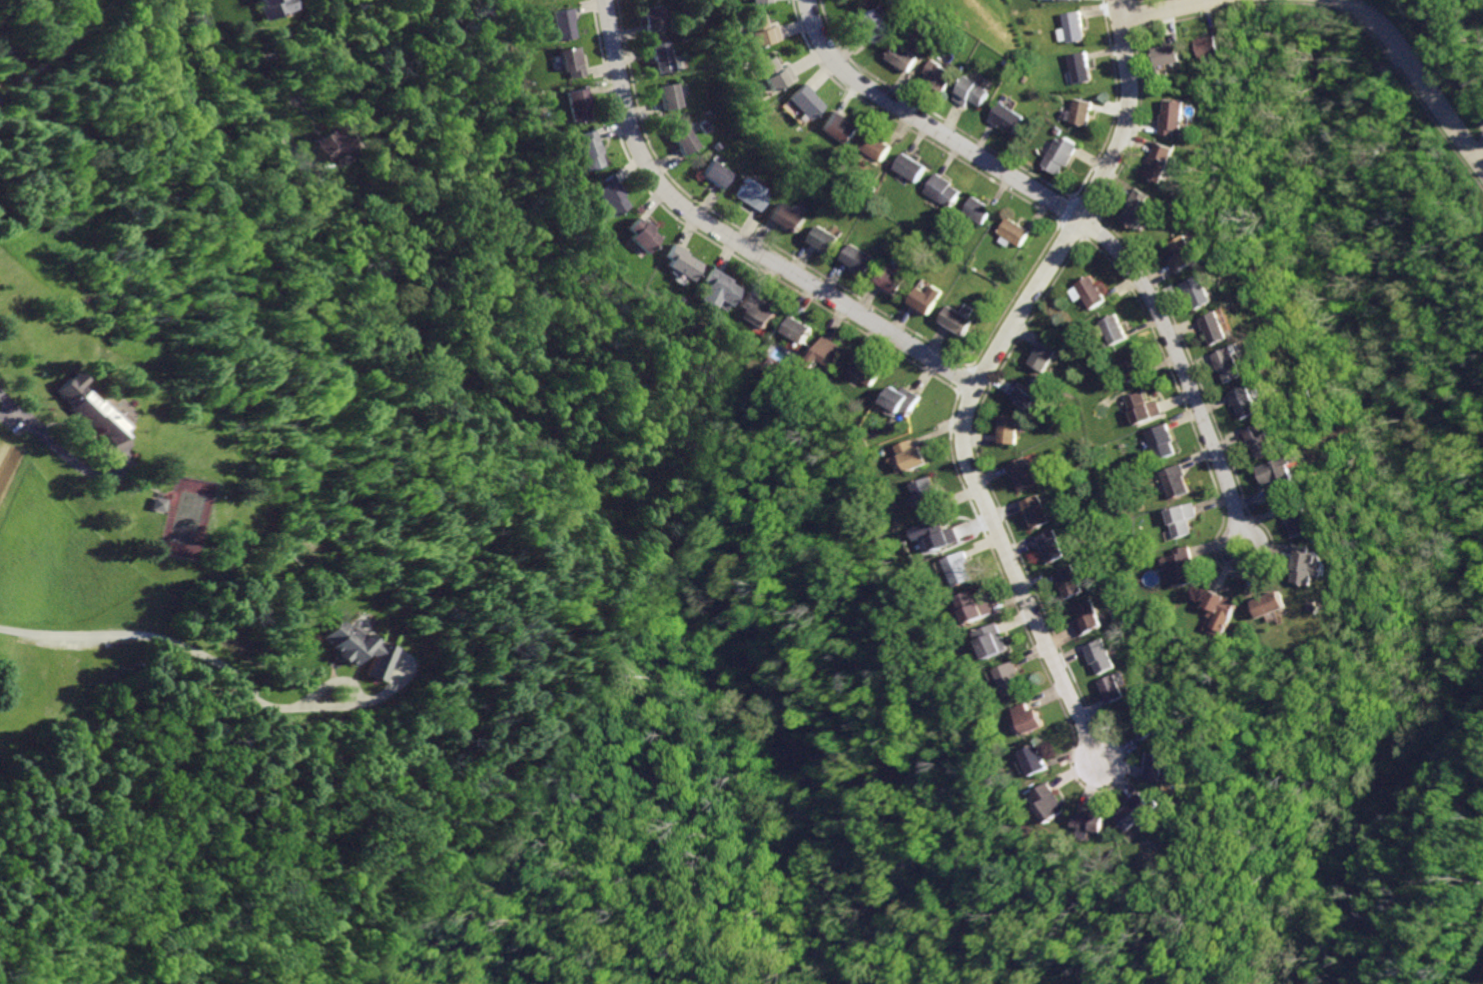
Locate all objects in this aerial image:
building: (760, 1)
building: (269, 7)
road: (1170, 10)
building: (657, 16)
building: (563, 24)
building: (871, 26)
building: (1072, 27)
building: (761, 30)
building: (1212, 44)
building: (1172, 55)
building: (903, 56)
building: (666, 57)
building: (573, 59)
road: (226, 60)
building: (1081, 66)
building: (775, 73)
building: (939, 75)
road: (1472, 79)
road: (1417, 81)
building: (973, 91)
building: (671, 95)
building: (806, 101)
building: (578, 104)
building: (1082, 112)
building: (1010, 117)
building: (1176, 117)
building: (841, 127)
building: (685, 140)
building: (329, 143)
road: (286, 146)
building: (875, 147)
building: (589, 149)
building: (1060, 154)
building: (1163, 161)
building: (909, 167)
building: (717, 172)
building: (944, 190)
building: (610, 195)
building: (753, 196)
road: (1087, 203)
building: (1140, 209)
building: (980, 210)
road: (1072, 216)
building: (788, 217)
building: (1018, 232)
building: (643, 236)
building: (823, 238)
road: (732, 239)
building: (1187, 254)
building: (855, 257)
building: (682, 261)
building: (888, 281)
building: (1093, 288)
building: (719, 291)
building: (1203, 291)
building: (926, 299)
building: (759, 307)
building: (957, 318)
building: (1221, 327)
building: (1115, 328)
building: (795, 329)
building: (827, 354)
building: (1047, 357)
building: (1236, 363)
building: (1133, 367)
building: (862, 370)
building: (1030, 394)
building: (902, 400)
building: (1251, 401)
building: (1142, 407)
building: (90, 411)
building: (1010, 432)
building: (1267, 440)
building: (1162, 441)
road: (61, 452)
building: (913, 455)
building: (1286, 473)
building: (1023, 474)
building: (1176, 482)
building: (927, 496)
building: (155, 503)
building: (1037, 512)
building: (1183, 520)
building: (1303, 520)
park: (183, 521)
building: (941, 536)
building: (1051, 548)
road: (1246, 563)
building: (1309, 564)
building: (1183, 566)
building: (957, 569)
road: (1015, 574)
building: (1070, 583)
building: (1273, 605)
building: (974, 608)
building: (1223, 612)
building: (1091, 619)
road: (69, 638)
building: (993, 642)
building: (358, 650)
building: (1106, 656)
building: (1010, 679)
road: (331, 685)
building: (1120, 689)
road: (276, 709)
building: (1025, 720)
building: (1149, 725)
building: (1033, 760)
building: (1162, 770)
building: (1048, 801)
building: (1137, 811)
building: (1089, 821)

